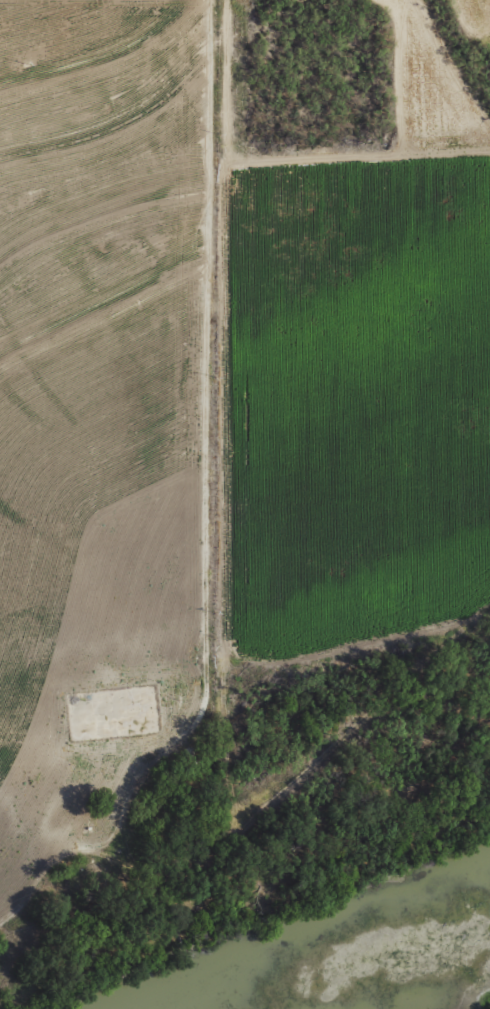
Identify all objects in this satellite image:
river: (302, 929)

